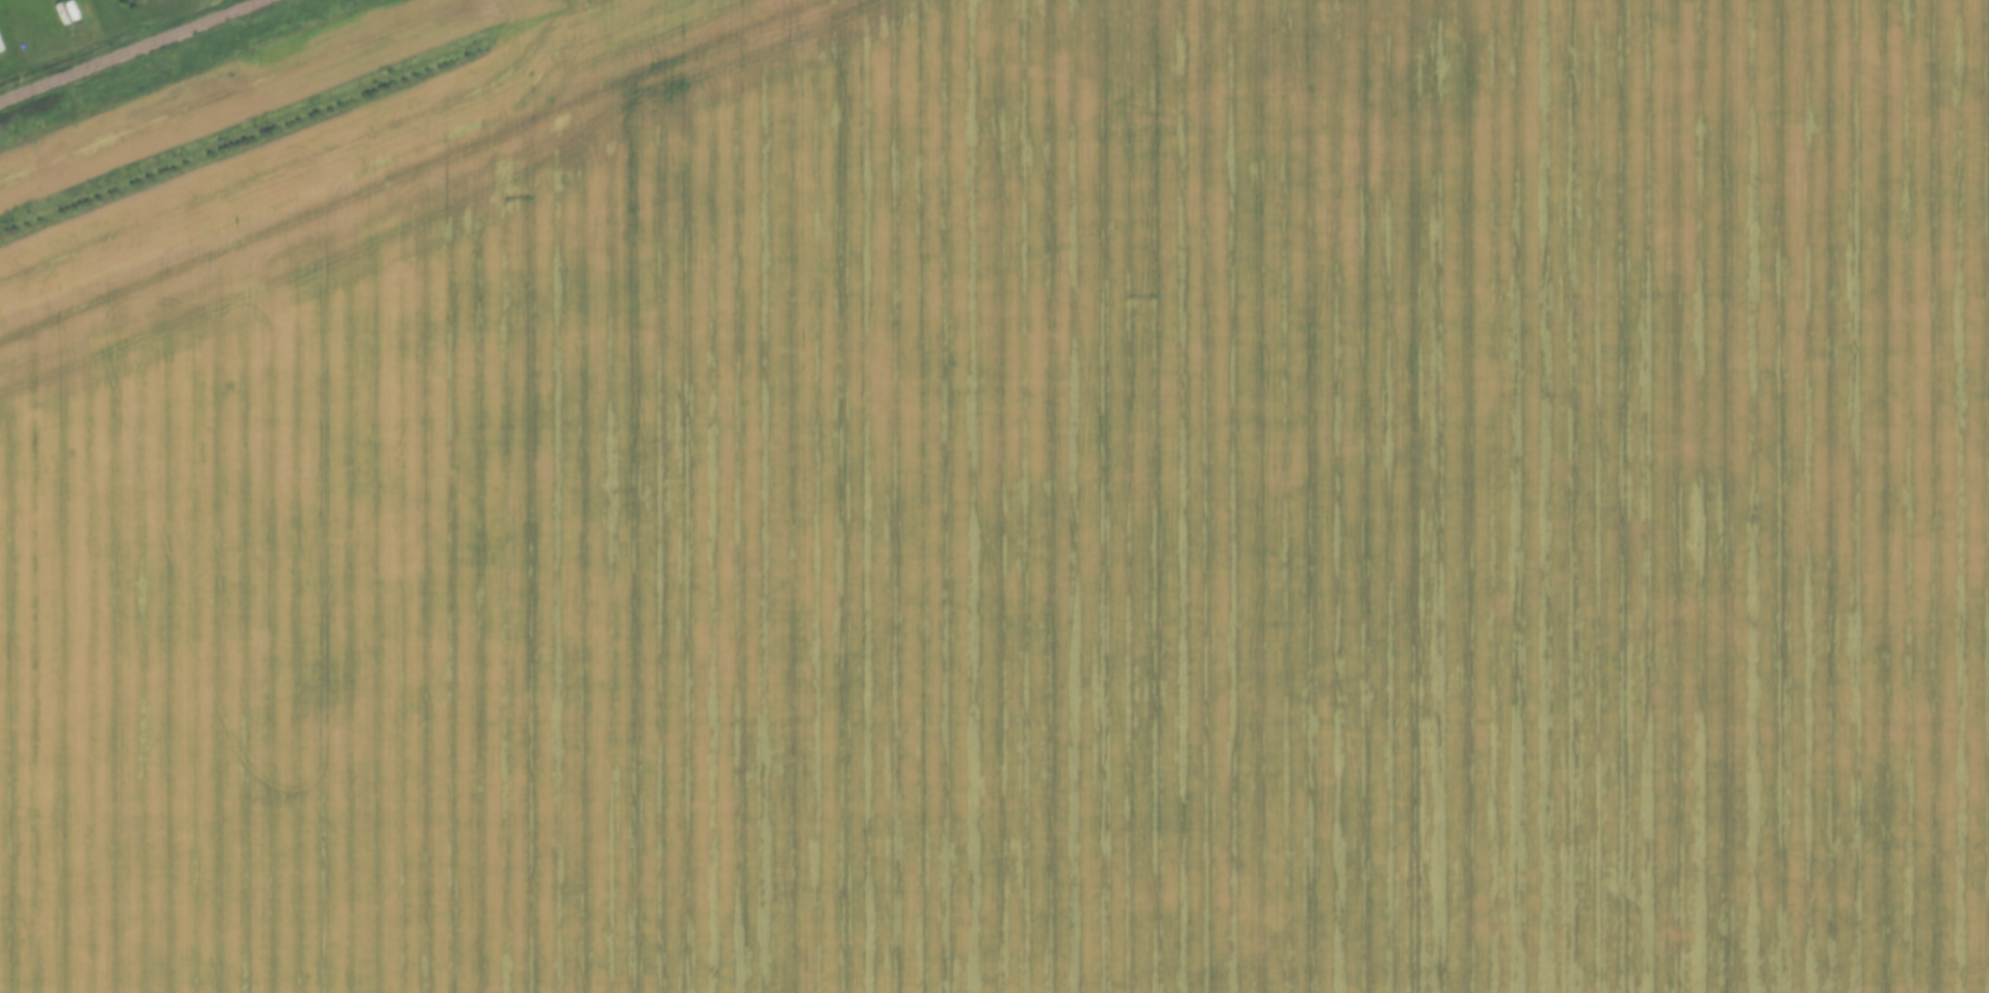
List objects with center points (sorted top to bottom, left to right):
building: (2, 46)
railway: (132, 50)
crop: (1006, 502)

